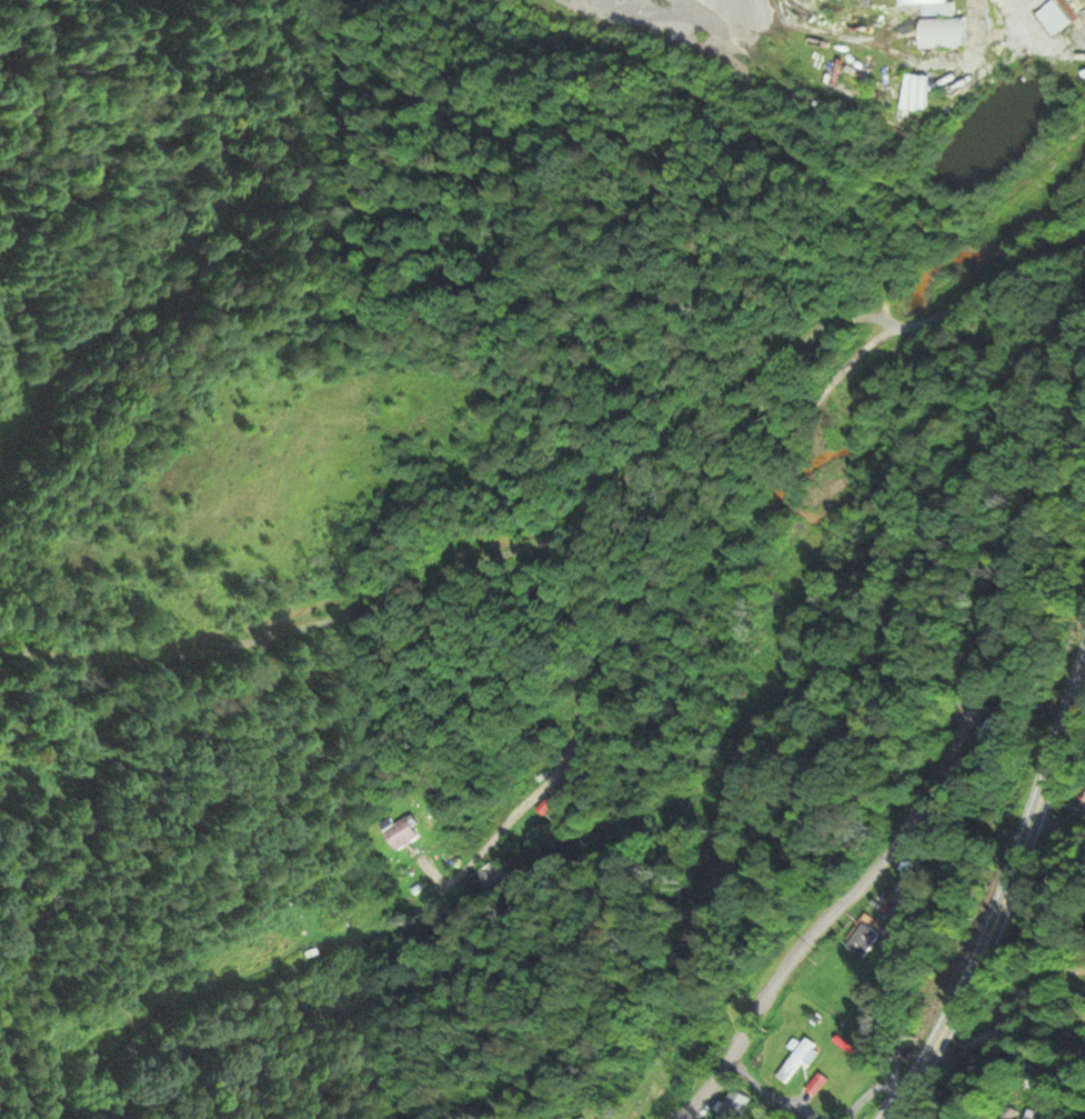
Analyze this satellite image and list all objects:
building: (1052, 18)
building: (940, 32)
road: (925, 792)
building: (400, 833)
building: (488, 876)
road: (1003, 888)
building: (861, 938)
road: (898, 950)
building: (796, 1060)
building: (729, 1106)

